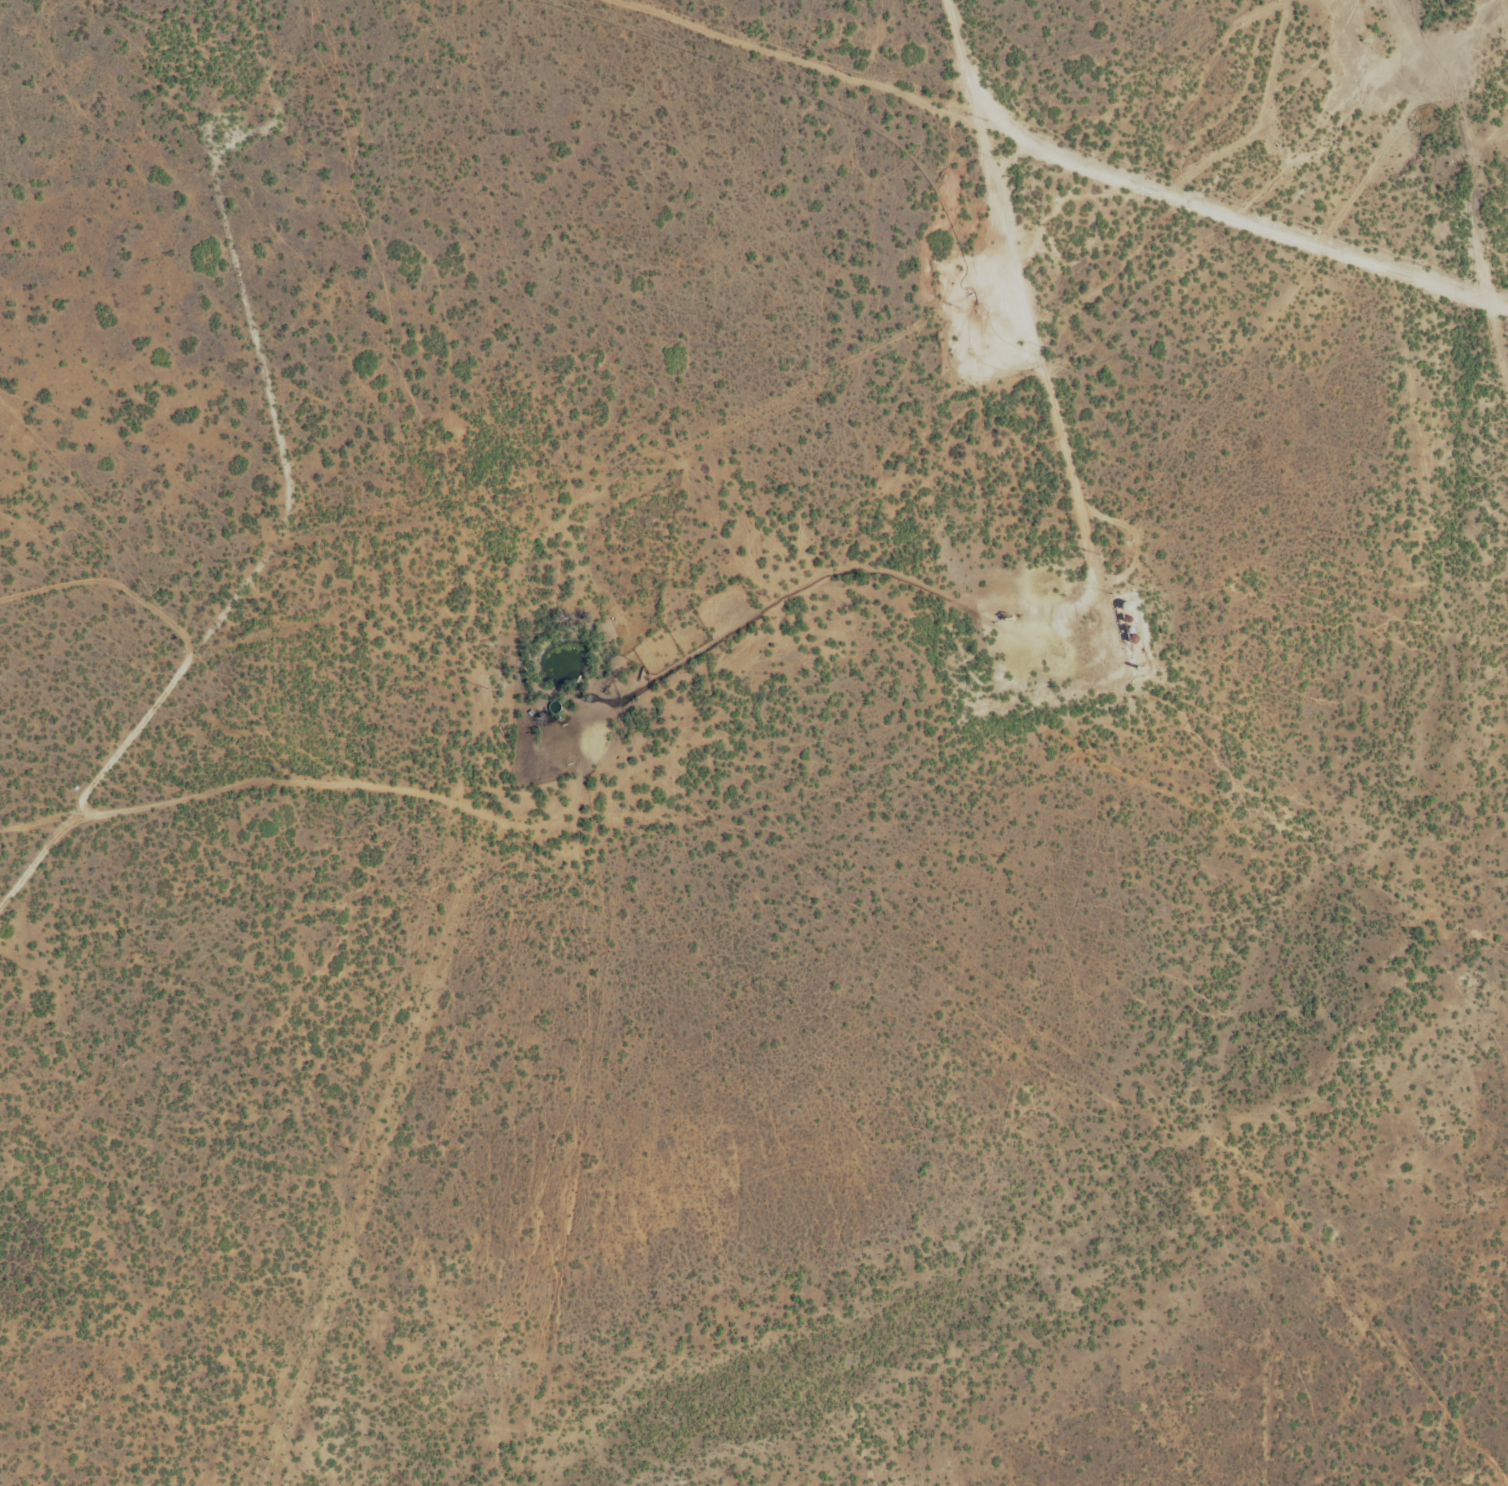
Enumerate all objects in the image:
river: (1506, 4)
river: (1118, 1192)

